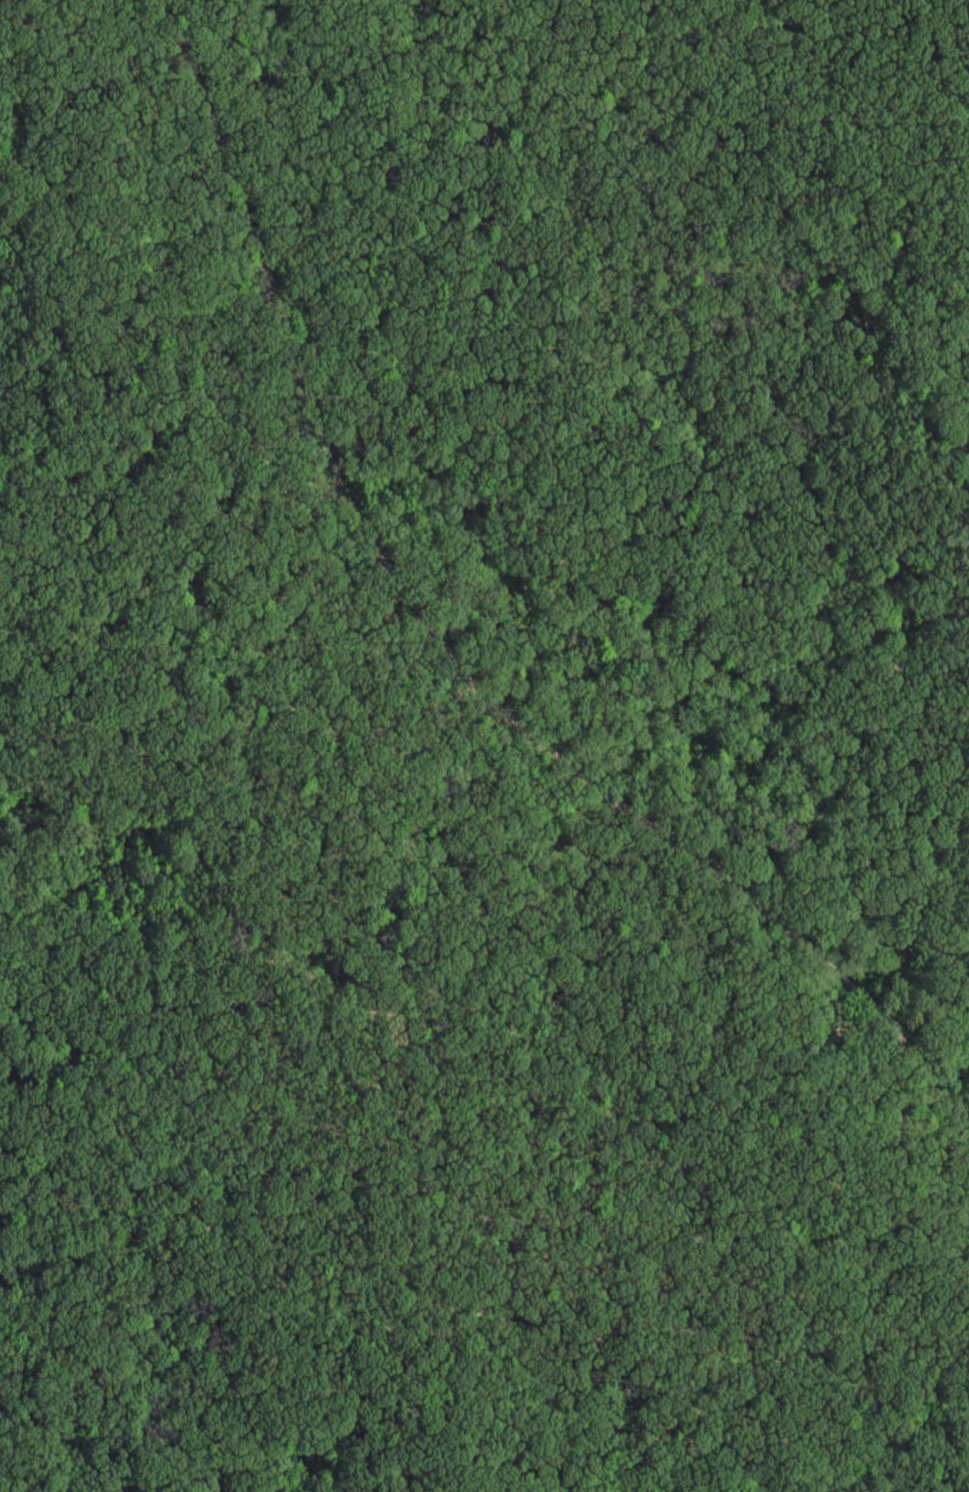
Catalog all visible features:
road: (447, 656)

